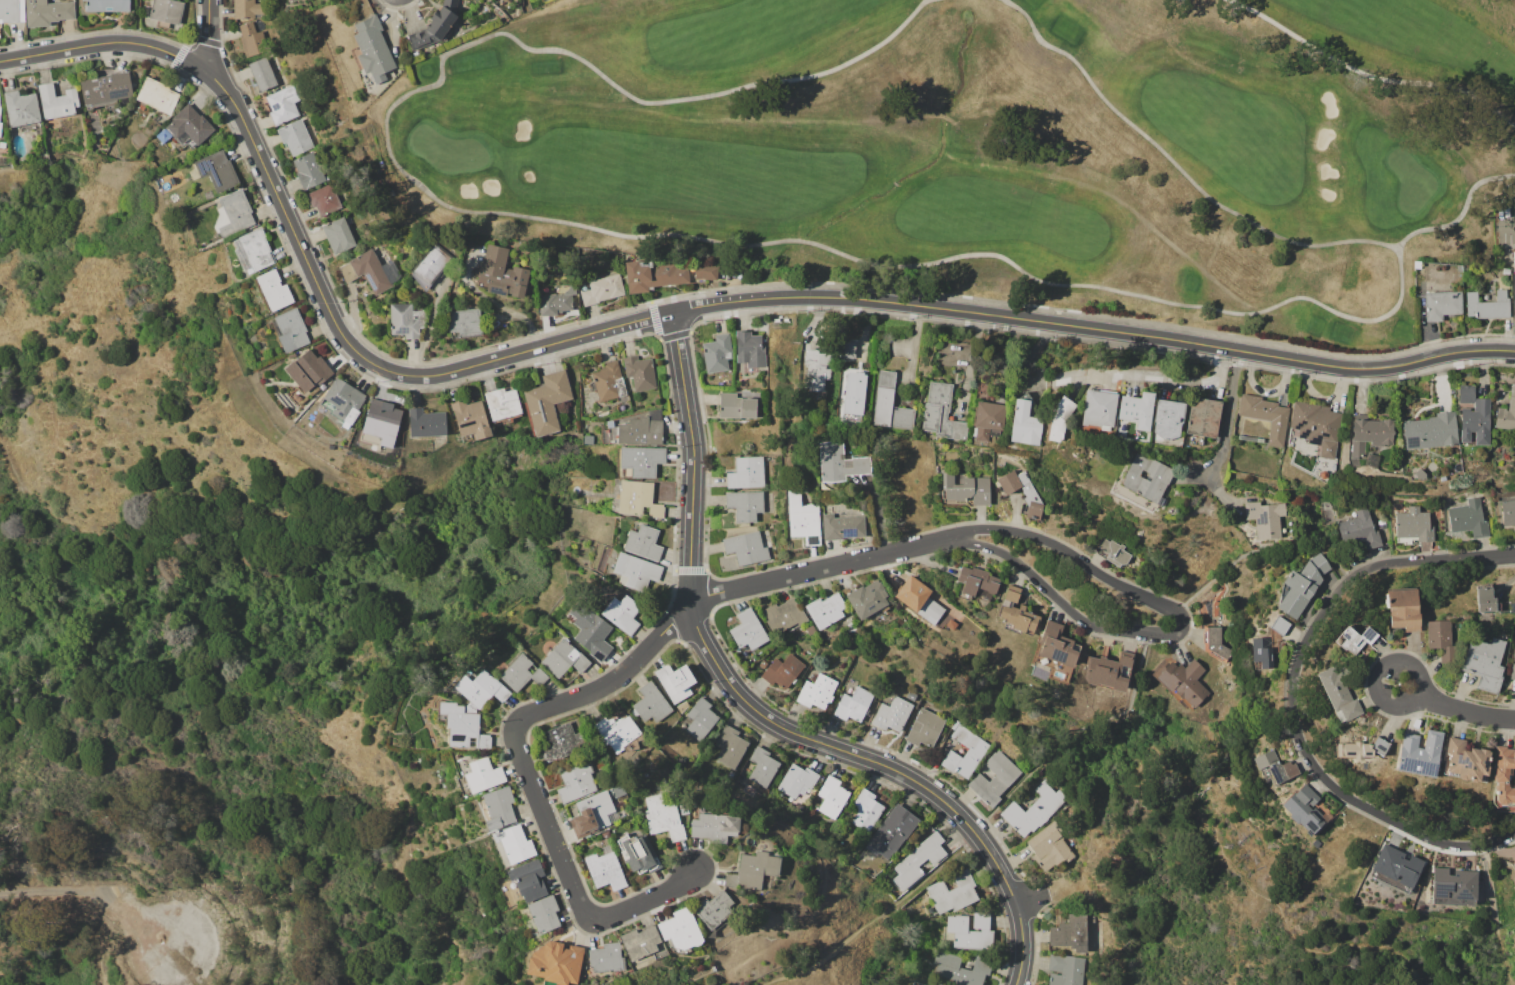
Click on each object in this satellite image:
building: (106, 5)
building: (246, 8)
building: (11, 11)
building: (47, 12)
building: (166, 12)
building: (435, 26)
road: (207, 35)
building: (249, 41)
building: (371, 49)
building: (262, 74)
building: (105, 89)
building: (0, 95)
building: (156, 96)
building: (56, 101)
building: (281, 106)
building: (21, 107)
building: (0, 127)
building: (188, 127)
building: (294, 137)
building: (2, 145)
park: (991, 148)
building: (217, 170)
building: (308, 170)
building: (324, 199)
building: (233, 214)
road: (1507, 224)
building: (338, 235)
building: (252, 250)
building: (430, 265)
building: (705, 270)
building: (370, 271)
building: (1506, 272)
building: (501, 273)
building: (653, 275)
building: (1514, 276)
building: (601, 289)
building: (273, 290)
building: (556, 302)
building: (1441, 304)
building: (1487, 306)
road: (665, 313)
building: (405, 320)
building: (463, 323)
road: (430, 325)
building: (291, 330)
building: (847, 350)
building: (749, 351)
building: (716, 353)
building: (817, 369)
building: (308, 370)
building: (639, 372)
road: (1159, 376)
building: (607, 382)
building: (853, 400)
building: (342, 402)
building: (546, 403)
building: (502, 404)
building: (889, 404)
building: (736, 406)
building: (1099, 408)
building: (1137, 410)
building: (1507, 413)
building: (941, 415)
building: (381, 416)
building: (1266, 416)
building: (1474, 416)
building: (1203, 417)
road: (1228, 417)
building: (1060, 419)
building: (1168, 419)
building: (470, 420)
building: (988, 420)
building: (1025, 422)
building: (426, 423)
building: (1317, 426)
building: (634, 429)
building: (1431, 431)
building: (587, 439)
building: (1368, 439)
building: (640, 461)
building: (841, 462)
building: (746, 473)
building: (1420, 474)
building: (1148, 478)
building: (965, 489)
building: (1022, 493)
building: (637, 499)
building: (744, 505)
building: (1507, 507)
building: (802, 518)
building: (1265, 518)
building: (1468, 518)
building: (842, 526)
building: (1413, 527)
building: (1359, 530)
building: (643, 542)
building: (746, 548)
building: (1113, 552)
road: (1492, 556)
road: (1407, 561)
building: (635, 571)
building: (975, 581)
building: (1302, 585)
road: (707, 597)
building: (867, 598)
building: (919, 598)
building: (1486, 599)
building: (1403, 609)
building: (825, 610)
building: (1017, 613)
building: (621, 614)
building: (783, 616)
building: (1280, 625)
road: (1181, 627)
building: (747, 630)
building: (590, 631)
building: (1355, 639)
building: (1441, 640)
building: (1216, 643)
building: (1057, 645)
park: (229, 648)
building: (1261, 654)
building: (563, 658)
building: (1485, 663)
building: (763, 664)
building: (782, 671)
building: (1107, 671)
building: (1512, 671)
building: (522, 673)
road: (724, 676)
road: (1382, 677)
building: (675, 681)
building: (1182, 682)
building: (816, 691)
building: (1339, 695)
building: (650, 703)
building: (853, 704)
building: (681, 706)
building: (470, 710)
building: (892, 714)
road: (1471, 715)
building: (700, 718)
building: (925, 728)
building: (619, 731)
building: (560, 742)
building: (730, 747)
building: (1361, 749)
building: (965, 752)
building: (1419, 753)
building: (1465, 761)
building: (762, 767)
building: (1275, 767)
building: (730, 774)
road: (1319, 774)
building: (482, 775)
building: (994, 778)
building: (1504, 779)
building: (797, 780)
building: (576, 782)
building: (618, 789)
building: (832, 797)
building: (498, 808)
building: (1033, 809)
building: (1303, 809)
building: (865, 810)
building: (593, 815)
building: (663, 818)
building: (714, 827)
building: (892, 831)
building: (606, 835)
building: (516, 845)
building: (1048, 848)
building: (636, 852)
building: (918, 860)
building: (1514, 861)
building: (1514, 864)
building: (1396, 865)
building: (605, 869)
building: (752, 871)
building: (527, 880)
building: (1452, 884)
road: (1253, 888)
road: (95, 890)
road: (580, 890)
building: (952, 892)
building: (712, 912)
building: (544, 914)
road: (881, 919)
building: (680, 931)
building: (970, 932)
building: (1070, 932)
road: (1021, 939)
building: (642, 946)
road: (1505, 954)
building: (605, 958)
road: (151, 963)
building: (555, 963)
park: (794, 963)
building: (960, 968)
building: (1065, 970)

